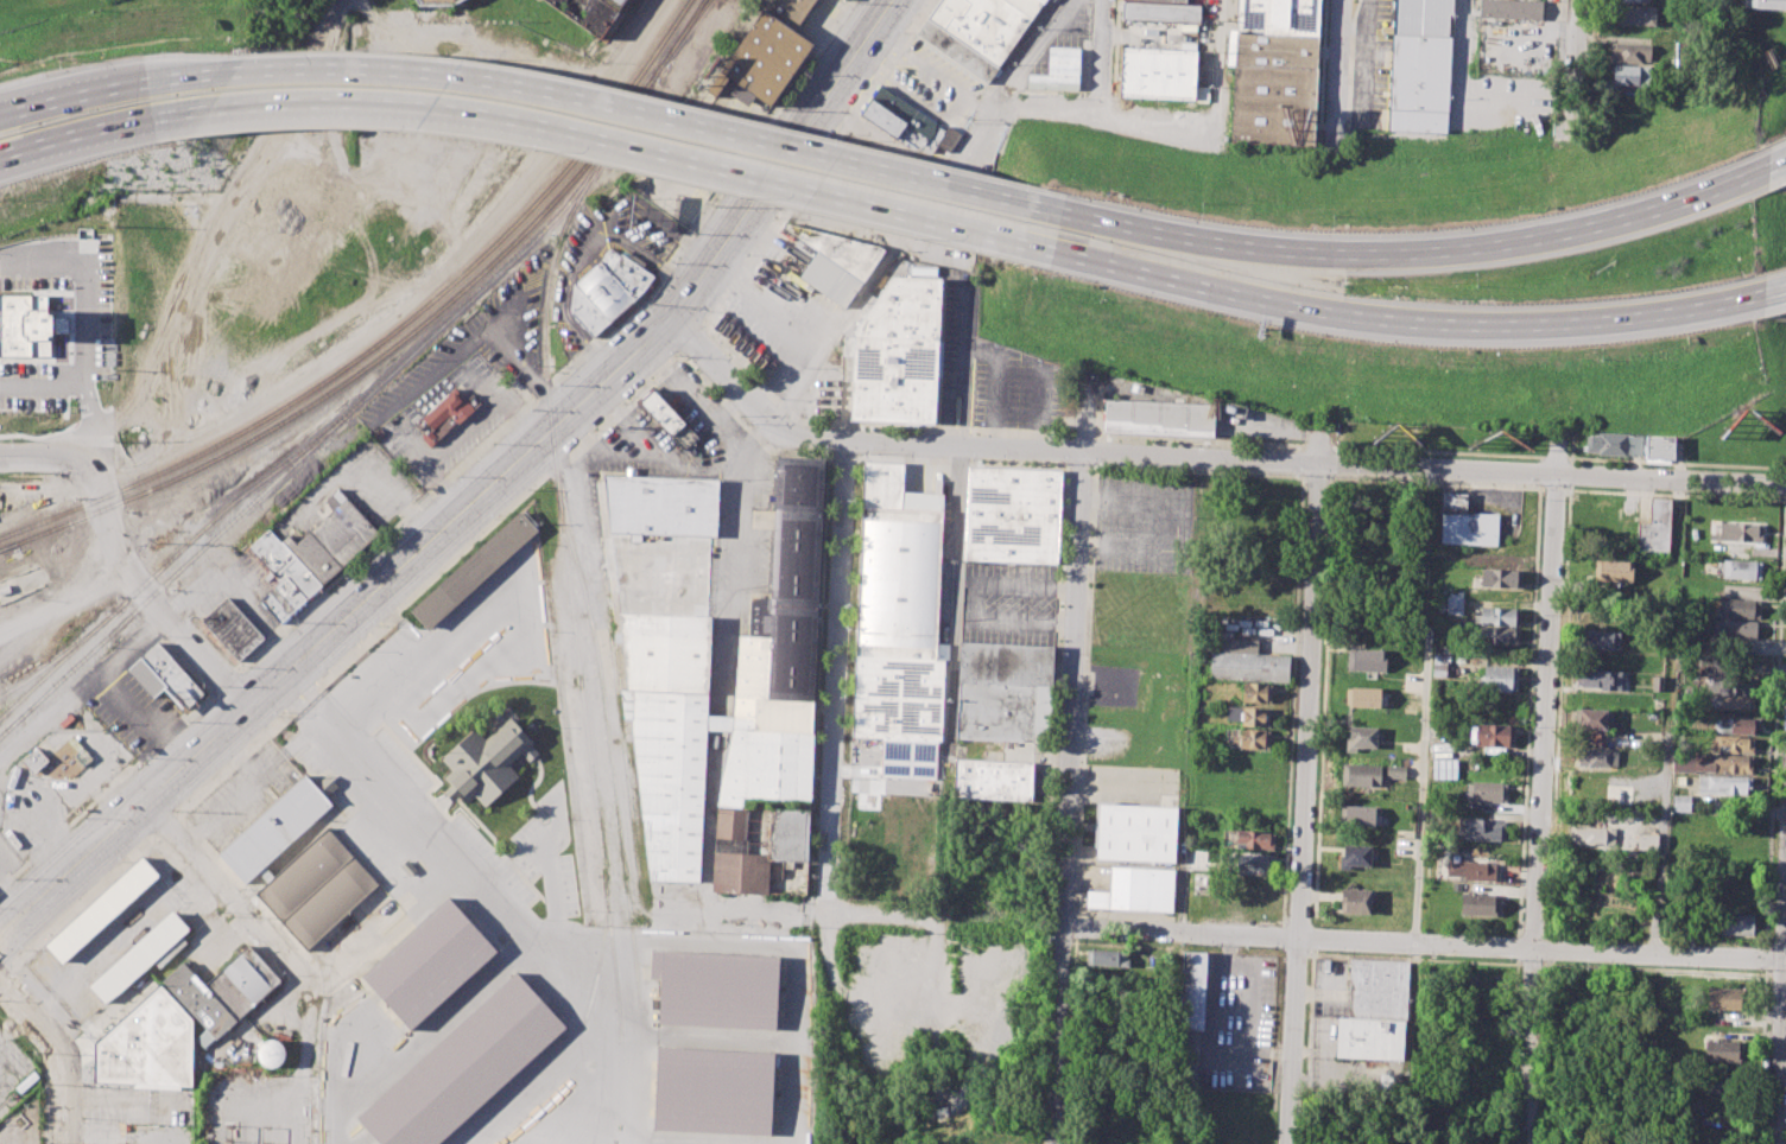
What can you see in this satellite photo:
building: (844, 0)
building: (1635, 0)
building: (437, 1)
street lamp: (1351, 1)
building: (1763, 4)
street lamp: (854, 6)
building: (1510, 11)
building: (1160, 12)
building: (590, 14)
building: (1635, 14)
railway: (684, 31)
building: (980, 32)
road: (1104, 46)
road: (1114, 46)
road: (1589, 47)
road: (894, 50)
building: (769, 52)
building: (1630, 52)
road: (1576, 57)
street lamp: (1110, 62)
road: (1349, 65)
building: (1421, 69)
building: (1058, 70)
building: (1275, 71)
road: (876, 72)
street lamp: (1562, 72)
building: (1159, 75)
building: (1627, 75)
road: (1322, 76)
road: (1336, 76)
road: (943, 78)
road: (191, 82)
road: (980, 98)
road: (72, 101)
road: (932, 109)
street lamp: (781, 110)
building: (898, 120)
road: (1165, 121)
road: (108, 122)
road: (636, 122)
street lamp: (1344, 122)
road: (623, 158)
road: (1776, 161)
road: (817, 165)
road: (920, 211)
railway: (549, 235)
railway: (519, 246)
road: (1404, 254)
building: (836, 262)
railway: (470, 267)
railway: (480, 273)
road: (81, 287)
building: (607, 291)
road: (1768, 298)
building: (759, 318)
road: (1382, 324)
building: (27, 325)
building: (741, 333)
road: (691, 341)
building: (898, 352)
street lamp: (672, 356)
building: (847, 367)
road: (520, 368)
parking lot: (989, 368)
road: (84, 389)
road: (685, 389)
road: (1098, 405)
road: (1085, 413)
building: (1158, 417)
railway: (341, 419)
building: (443, 419)
road: (518, 419)
building: (669, 420)
road: (742, 422)
road: (868, 426)
road: (403, 432)
road: (1305, 433)
road: (1081, 436)
road: (1199, 441)
building: (1613, 444)
road: (1318, 447)
road: (1571, 447)
building: (1660, 447)
road: (1437, 451)
road: (842, 452)
road: (47, 456)
road: (1554, 457)
road: (961, 458)
road: (1204, 458)
road: (672, 460)
road: (1678, 462)
road: (1079, 463)
road: (1198, 469)
road: (1318, 475)
street lamp: (456, 476)
street lamp: (1355, 477)
road: (1438, 479)
road: (443, 488)
road: (1553, 488)
road: (1674, 494)
street lamp: (1723, 495)
road: (481, 496)
street lamp: (1541, 498)
railway: (93, 500)
railway: (95, 513)
building: (1013, 514)
street lamp: (494, 522)
building: (1465, 522)
parking lot: (1151, 523)
building: (1654, 527)
building: (1738, 530)
building: (334, 539)
railway: (7, 547)
building: (1742, 568)
building: (1613, 570)
building: (474, 571)
building: (284, 577)
building: (1501, 577)
street lamp: (344, 579)
road: (425, 585)
railway: (132, 592)
railway: (569, 593)
road: (151, 600)
road: (955, 602)
parking lot: (1008, 602)
road: (65, 604)
building: (1453, 605)
building: (1740, 608)
building: (1497, 616)
street lamp: (1535, 617)
building: (899, 622)
building: (1735, 629)
building: (233, 630)
building: (1500, 636)
building: (1601, 641)
building: (1366, 661)
building: (1248, 662)
railway: (49, 663)
building: (1440, 666)
street lamp: (246, 669)
building: (670, 675)
road: (832, 675)
building: (164, 678)
building: (1497, 678)
building: (1597, 679)
building: (1655, 682)
building: (1729, 685)
road: (82, 688)
building: (1005, 691)
building: (1256, 693)
building: (1362, 697)
building: (1733, 703)
building: (1249, 716)
street lamp: (278, 717)
road: (1665, 717)
building: (1592, 718)
building: (1736, 725)
road: (148, 727)
street lamp: (1531, 729)
building: (1491, 736)
building: (1249, 738)
building: (1360, 738)
railway: (609, 743)
building: (1734, 744)
building: (1595, 757)
building: (34, 762)
building: (487, 763)
building: (1710, 763)
building: (1444, 769)
road: (1421, 770)
building: (1395, 771)
building: (1361, 775)
building: (993, 778)
building: (1679, 780)
road: (1306, 782)
building: (1724, 786)
road: (1540, 789)
building: (1487, 792)
road: (1066, 797)
building: (1680, 803)
road: (405, 809)
building: (1357, 815)
street lamp: (82, 818)
road: (165, 825)
building: (1478, 828)
building: (275, 831)
building: (1136, 832)
building: (1591, 835)
building: (1254, 839)
building: (1643, 844)
street lamp: (1525, 847)
building: (762, 853)
building: (1355, 856)
street lamp: (121, 860)
building: (1252, 862)
building: (1148, 864)
building: (1474, 869)
road: (19, 877)
road: (218, 884)
building: (317, 889)
building: (1134, 890)
road: (82, 900)
building: (1354, 900)
building: (1477, 903)
road: (741, 905)
building: (101, 910)
road: (892, 913)
building: (1737, 923)
road: (1424, 943)
street lamp: (24, 947)
railway: (601, 953)
building: (137, 958)
building: (1107, 958)
street lamp: (1509, 962)
street lamp: (1585, 962)
building: (430, 965)
street lamp: (1661, 966)
road: (5, 971)
street lamp: (1760, 972)
building: (242, 983)
road: (850, 984)
building: (717, 989)
building: (1725, 999)
building: (199, 1002)
road: (936, 1005)
building: (1372, 1012)
building: (1191, 1018)
building: (204, 1038)
road: (1780, 1038)
building: (146, 1044)
building: (1723, 1050)
street lamp: (37, 1053)
street lamp: (1516, 1054)
road: (52, 1055)
building: (463, 1066)
building: (1717, 1083)
building: (712, 1091)
street lamp: (49, 1140)

